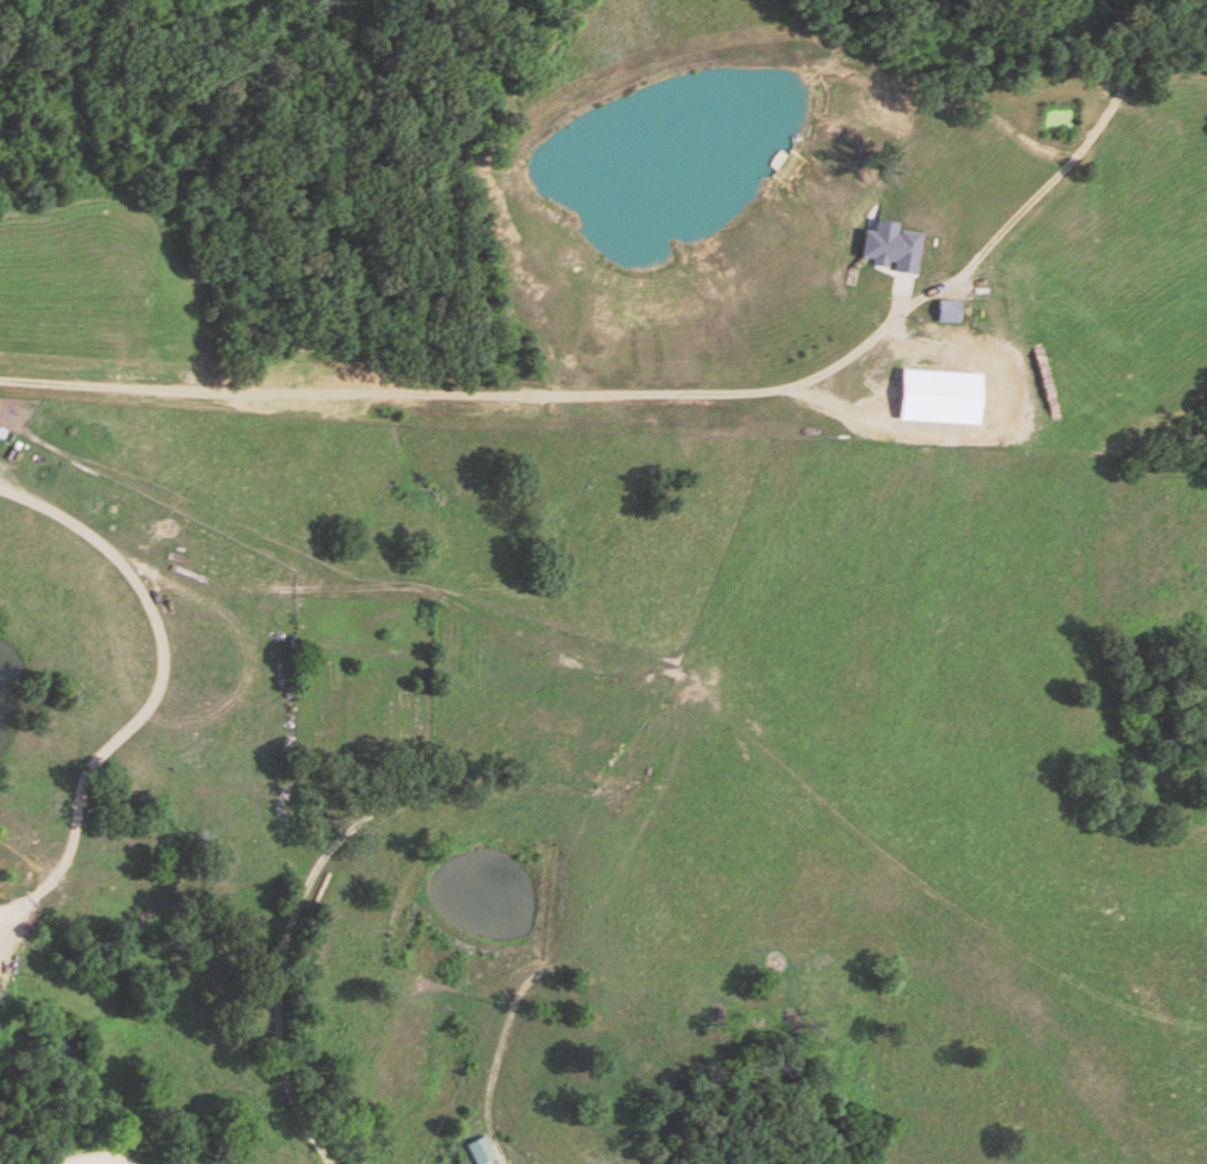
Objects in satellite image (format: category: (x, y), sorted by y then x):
road: (465, 392)
road: (153, 694)
building: (480, 1151)
road: (92, 1158)

